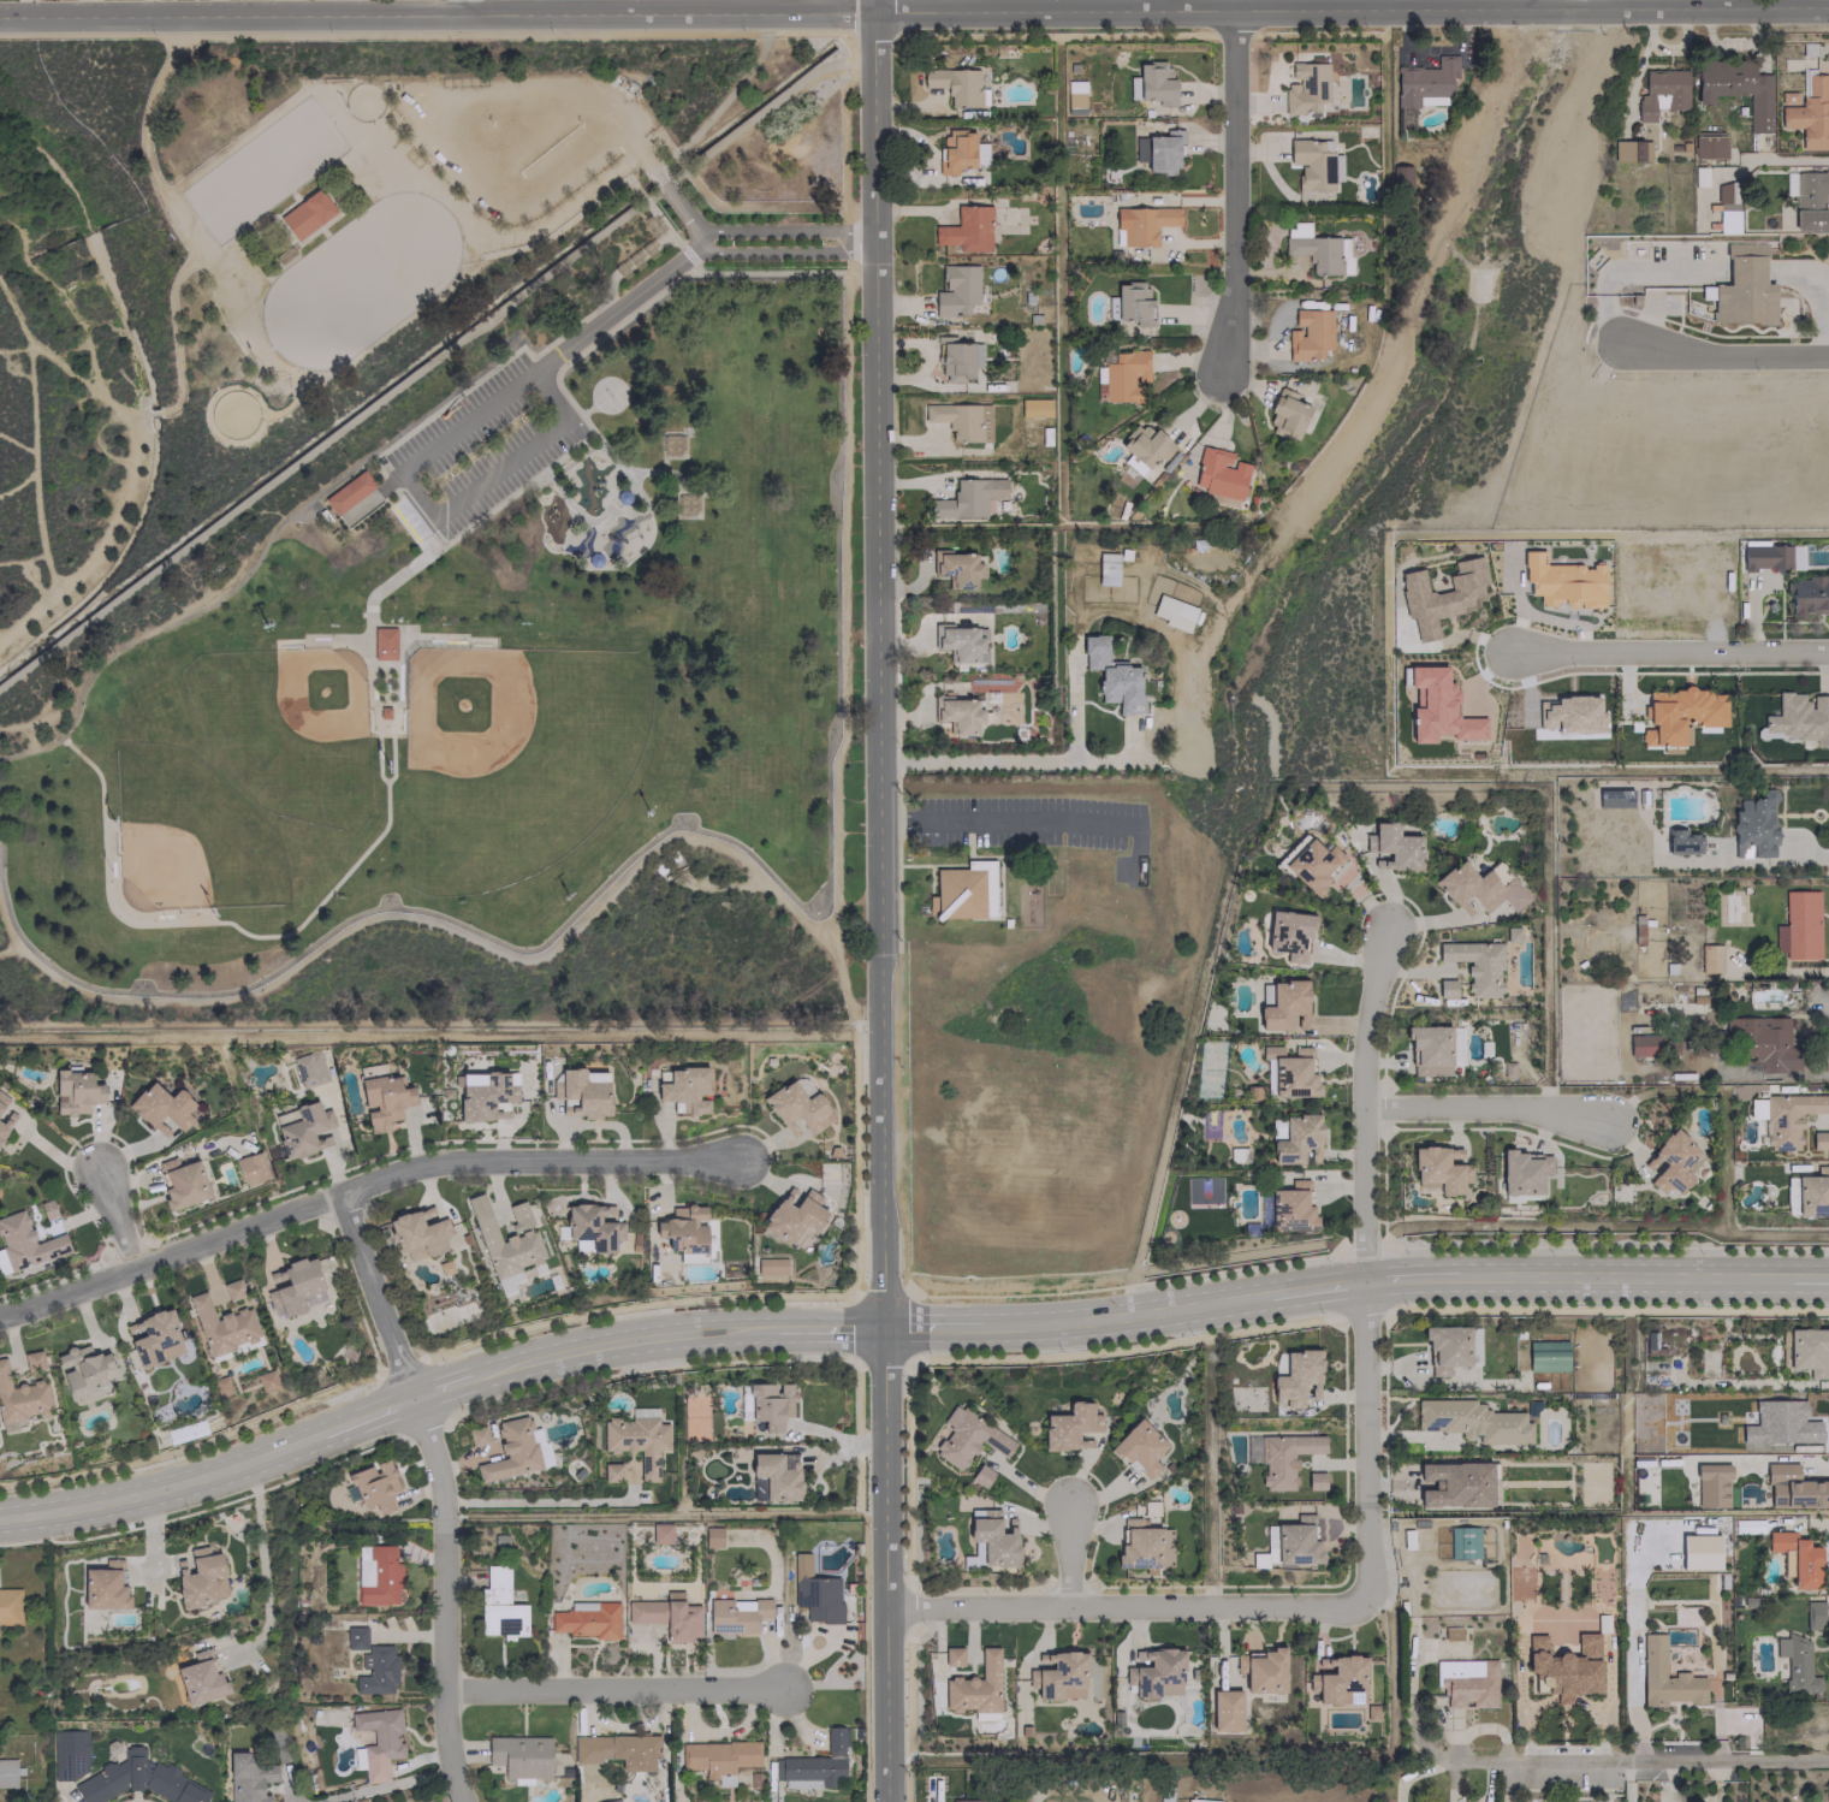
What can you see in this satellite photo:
road: (1604, 1)
road: (877, 4)
road: (1353, 4)
road: (465, 5)
road: (438, 11)
building: (1425, 82)
building: (1152, 83)
building: (956, 85)
building: (1307, 88)
building: (1661, 91)
building: (1074, 96)
road: (764, 108)
building: (1806, 112)
road: (608, 118)
parking lot: (516, 134)
building: (1708, 146)
building: (1631, 150)
building: (956, 152)
building: (1158, 152)
road: (1785, 159)
building: (1313, 164)
road: (651, 167)
building: (1397, 174)
road: (500, 180)
road: (664, 184)
road: (1236, 185)
road: (635, 190)
building: (1810, 201)
building: (1726, 207)
road: (683, 209)
building: (308, 214)
building: (1142, 223)
building: (966, 229)
road: (786, 230)
road: (553, 232)
road: (785, 251)
road: (1632, 269)
building: (1742, 286)
building: (955, 290)
road: (1816, 294)
building: (1129, 304)
road: (595, 324)
building: (1308, 334)
road: (522, 346)
road: (1721, 355)
building: (954, 358)
building: (1124, 375)
park: (607, 393)
building: (1034, 408)
road: (586, 409)
building: (1285, 415)
building: (961, 420)
road: (321, 443)
parking lot: (482, 446)
building: (672, 446)
building: (1144, 446)
building: (1219, 476)
building: (349, 492)
road: (415, 497)
building: (969, 498)
building: (685, 506)
road: (416, 520)
road: (470, 523)
park: (429, 529)
building: (1764, 556)
building: (956, 568)
building: (1106, 568)
building: (1562, 582)
building: (1439, 595)
building: (1809, 595)
building: (1172, 612)
road: (188, 615)
building: (956, 641)
building: (384, 642)
road: (1670, 650)
road: (879, 666)
building: (1112, 675)
road: (1073, 707)
building: (384, 712)
building: (958, 713)
building: (1568, 713)
building: (1680, 713)
building: (1798, 717)
park: (292, 721)
road: (1017, 759)
park: (517, 763)
road: (385, 781)
road: (827, 820)
road: (1025, 822)
building: (1753, 825)
park: (190, 834)
building: (1681, 841)
building: (1394, 847)
road: (732, 852)
building: (1312, 864)
building: (1477, 889)
building: (963, 891)
road: (200, 921)
building: (1798, 925)
building: (1289, 935)
building: (1709, 958)
building: (1475, 965)
road: (93, 988)
building: (1445, 988)
building: (1284, 1006)
building: (1762, 1042)
building: (1643, 1044)
building: (1429, 1049)
building: (308, 1068)
building: (1290, 1072)
building: (685, 1089)
building: (76, 1091)
building: (581, 1092)
building: (482, 1095)
building: (382, 1101)
building: (797, 1105)
road: (1487, 1107)
building: (161, 1109)
building: (4, 1115)
building: (1787, 1118)
building: (303, 1131)
building: (1296, 1139)
building: (1818, 1139)
building: (1673, 1162)
building: (250, 1168)
building: (1437, 1168)
building: (1519, 1173)
building: (182, 1182)
road: (363, 1186)
building: (1812, 1192)
building: (1290, 1205)
building: (794, 1214)
building: (518, 1215)
road: (119, 1219)
building: (590, 1226)
building: (684, 1232)
building: (417, 1234)
building: (25, 1241)
building: (504, 1244)
road: (1361, 1263)
building: (770, 1265)
road: (1411, 1278)
road: (1622, 1279)
road: (1806, 1279)
building: (293, 1286)
building: (232, 1288)
road: (1311, 1288)
road: (1123, 1316)
building: (221, 1326)
road: (933, 1326)
road: (823, 1327)
building: (154, 1338)
road: (623, 1338)
building: (1445, 1347)
building: (1782, 1350)
building: (1809, 1351)
building: (1546, 1356)
building: (32, 1359)
building: (82, 1369)
building: (1296, 1377)
building: (266, 1380)
road: (447, 1385)
building: (22, 1397)
building: (767, 1405)
road: (361, 1416)
building: (1472, 1421)
building: (1780, 1423)
building: (1067, 1427)
building: (185, 1431)
building: (476, 1436)
building: (964, 1436)
building: (636, 1441)
building: (1139, 1447)
building: (515, 1450)
building: (1283, 1458)
building: (611, 1471)
building: (774, 1474)
building: (1314, 1481)
building: (1454, 1483)
building: (373, 1486)
building: (1710, 1486)
building: (1793, 1488)
road: (159, 1490)
road: (440, 1490)
building: (660, 1533)
building: (711, 1536)
building: (1295, 1542)
building: (1462, 1542)
building: (1138, 1543)
building: (582, 1551)
road: (1067, 1554)
building: (1797, 1557)
road: (1386, 1561)
road: (884, 1563)
road: (261, 1572)
building: (376, 1575)
building: (197, 1576)
building: (103, 1585)
road: (1409, 1588)
building: (814, 1591)
building: (1690, 1595)
building: (1629, 1601)
building: (10, 1606)
building: (499, 1606)
road: (1123, 1607)
building: (736, 1614)
building: (1812, 1614)
building: (666, 1616)
building: (587, 1619)
building: (355, 1637)
building: (951, 1655)
building: (1795, 1664)
building: (1563, 1666)
building: (375, 1670)
building: (1261, 1670)
building: (1156, 1673)
building: (1057, 1676)
building: (1664, 1676)
building: (200, 1678)
building: (1466, 1683)
building: (974, 1687)
road: (616, 1688)
road: (1408, 1695)
building: (1224, 1709)
building: (1370, 1711)
building: (378, 1739)
building: (617, 1750)
building: (70, 1753)
building: (519, 1755)
building: (718, 1757)
road: (1635, 1760)
building: (813, 1764)
building: (8, 1773)
building: (247, 1778)
building: (138, 1779)
road: (384, 1785)
road: (290, 1800)
building: (958, 1800)
building: (611, 1801)

